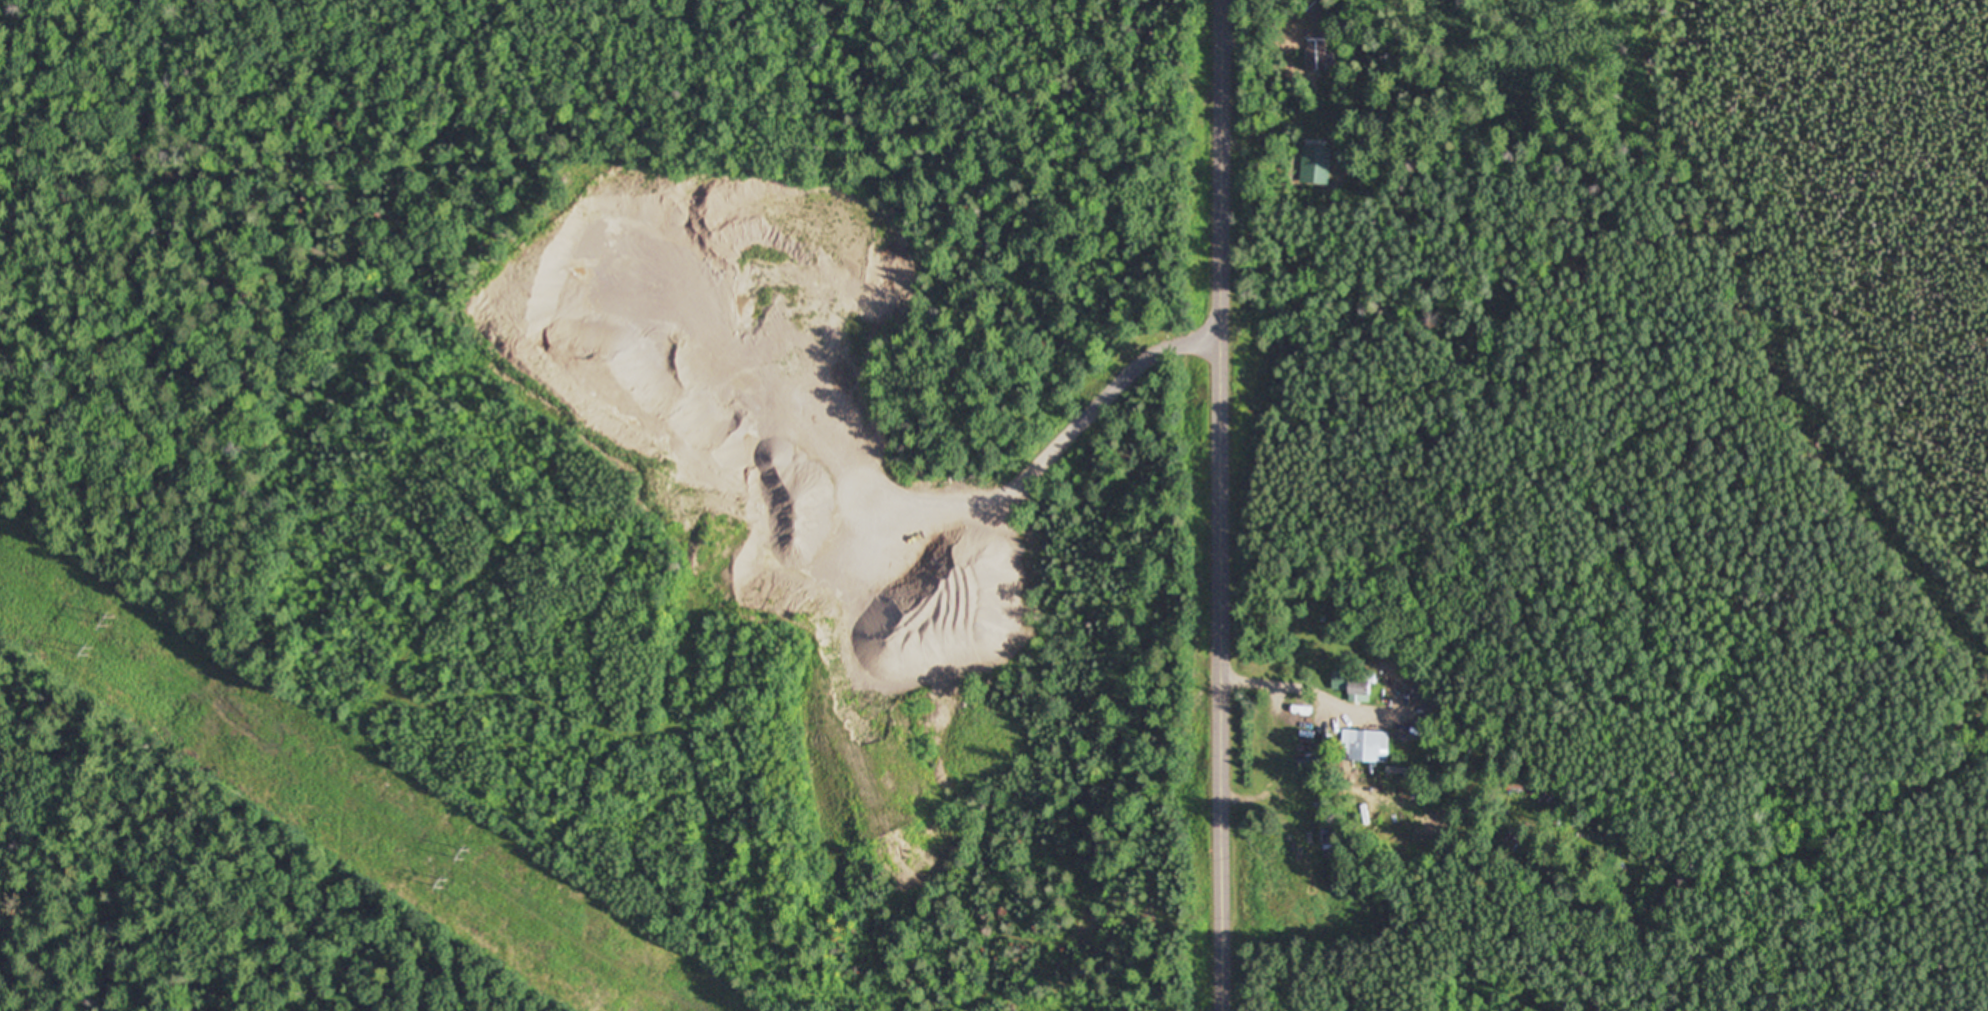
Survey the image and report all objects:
building: (1316, 49)
building: (1314, 164)
road: (1220, 505)
power tower: (110, 621)
power tower: (90, 650)
building: (1368, 745)
power tower: (467, 854)
power tower: (445, 883)

